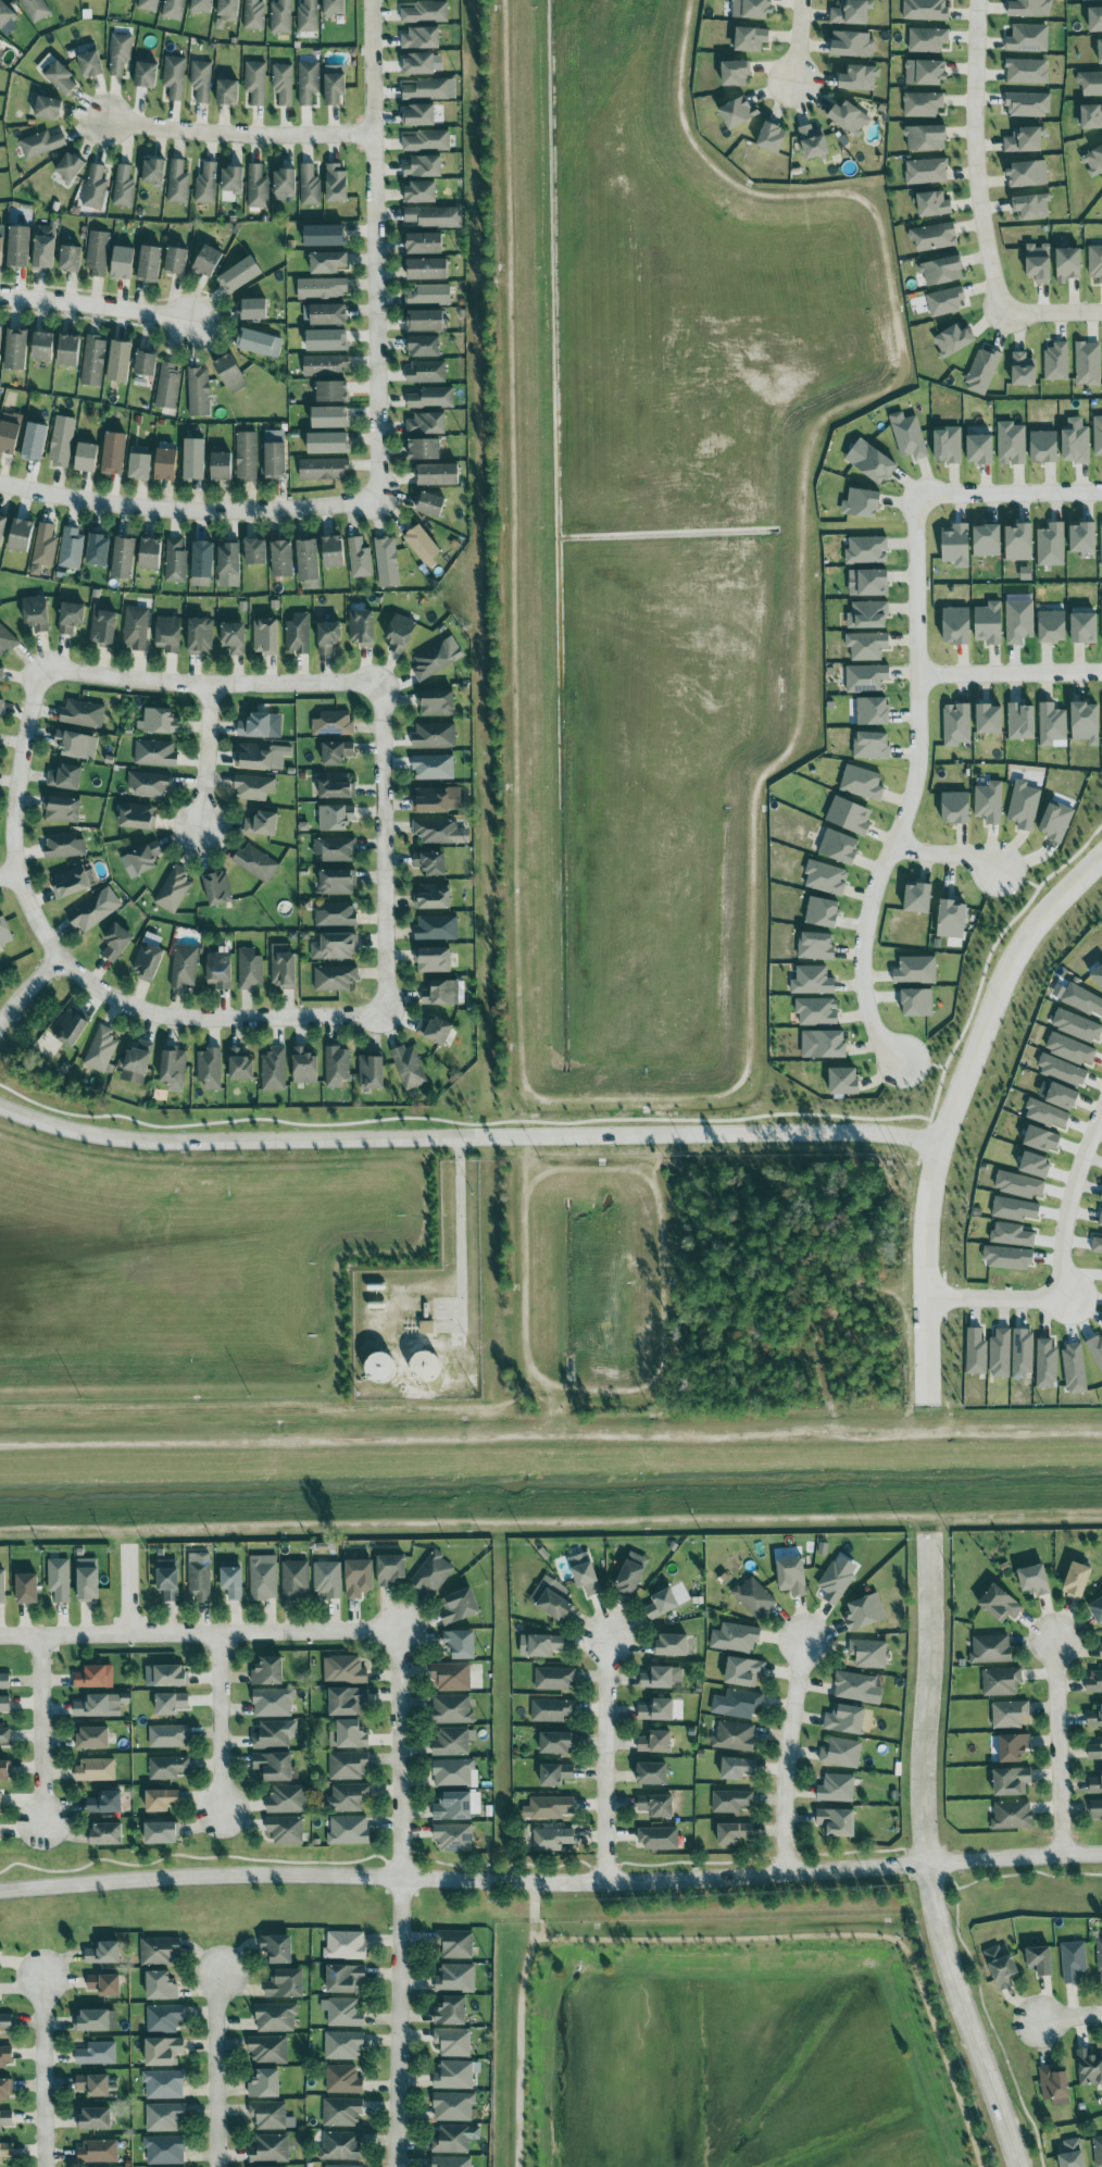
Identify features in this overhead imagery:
building: (1090, 0)
building: (147, 4)
building: (202, 7)
building: (334, 8)
building: (752, 8)
building: (1029, 8)
building: (36, 9)
building: (173, 9)
building: (229, 10)
building: (925, 10)
building: (426, 12)
building: (851, 12)
building: (5, 14)
building: (252, 14)
building: (280, 16)
building: (308, 16)
building: (1095, 18)
building: (421, 38)
building: (751, 38)
building: (1028, 38)
building: (0, 39)
building: (927, 39)
road: (802, 41)
building: (852, 43)
building: (1100, 50)
building: (120, 53)
building: (422, 63)
building: (90, 64)
building: (1027, 71)
building: (736, 72)
building: (926, 72)
building: (146, 74)
building: (174, 76)
building: (61, 77)
building: (860, 77)
building: (201, 80)
building: (255, 82)
building: (308, 82)
building: (283, 83)
building: (1090, 83)
building: (335, 84)
building: (426, 89)
building: (228, 92)
building: (923, 104)
building: (1028, 104)
building: (48, 108)
building: (739, 112)
building: (418, 115)
building: (1091, 116)
building: (850, 117)
road: (237, 134)
building: (773, 137)
building: (926, 137)
building: (1024, 140)
building: (427, 141)
building: (813, 141)
building: (41, 144)
road: (976, 155)
building: (1093, 161)
building: (70, 166)
building: (424, 166)
building: (926, 171)
building: (153, 172)
building: (1028, 174)
building: (233, 180)
building: (178, 182)
building: (337, 183)
building: (205, 184)
building: (285, 184)
building: (310, 185)
building: (123, 186)
building: (95, 187)
building: (258, 187)
building: (422, 191)
building: (934, 204)
building: (1032, 206)
building: (435, 216)
building: (325, 235)
building: (934, 237)
building: (425, 242)
building: (1, 244)
road: (371, 245)
building: (18, 246)
building: (46, 246)
building: (98, 253)
building: (71, 258)
building: (177, 260)
building: (209, 260)
building: (1095, 261)
building: (123, 262)
building: (328, 262)
building: (1039, 262)
building: (150, 264)
building: (1068, 264)
building: (427, 269)
building: (942, 271)
building: (240, 275)
building: (322, 288)
building: (428, 295)
building: (946, 301)
road: (96, 302)
building: (254, 309)
road: (1053, 312)
building: (426, 321)
building: (1, 335)
building: (327, 340)
building: (954, 340)
building: (260, 343)
building: (43, 346)
building: (425, 346)
building: (16, 349)
building: (70, 350)
building: (93, 360)
building: (120, 361)
building: (1056, 361)
building: (146, 363)
building: (1088, 363)
building: (325, 365)
building: (982, 370)
building: (1024, 370)
building: (426, 372)
building: (230, 374)
building: (167, 385)
building: (198, 391)
building: (333, 391)
building: (431, 398)
building: (330, 416)
building: (426, 424)
building: (909, 436)
building: (9, 437)
building: (61, 440)
building: (1098, 440)
building: (35, 441)
building: (328, 443)
building: (1012, 444)
building: (949, 445)
building: (1076, 445)
building: (1044, 446)
building: (425, 449)
building: (980, 449)
building: (114, 453)
building: (246, 457)
building: (87, 458)
building: (195, 459)
building: (275, 461)
building: (139, 463)
building: (166, 464)
building: (875, 464)
building: (221, 466)
building: (324, 469)
building: (438, 474)
road: (1012, 490)
building: (862, 503)
building: (431, 505)
road: (187, 507)
building: (2, 528)
building: (21, 535)
building: (1084, 537)
building: (1101, 539)
building: (988, 540)
building: (1019, 543)
building: (423, 545)
building: (956, 545)
building: (1051, 545)
building: (45, 546)
building: (71, 548)
building: (98, 550)
building: (866, 550)
building: (255, 551)
building: (334, 551)
building: (150, 553)
building: (124, 558)
building: (359, 558)
building: (283, 559)
building: (308, 560)
building: (175, 561)
building: (387, 562)
building: (202, 563)
building: (229, 565)
building: (874, 583)
building: (36, 613)
building: (868, 615)
building: (71, 618)
building: (1018, 620)
building: (989, 623)
building: (956, 625)
building: (102, 626)
building: (1053, 626)
building: (136, 627)
building: (362, 627)
building: (1085, 628)
building: (400, 633)
building: (168, 634)
building: (298, 634)
building: (201, 636)
building: (265, 636)
building: (328, 636)
building: (234, 637)
building: (5, 640)
building: (867, 646)
building: (437, 658)
building: (1, 672)
road: (1009, 672)
building: (866, 678)
road: (208, 684)
building: (0, 703)
building: (436, 703)
building: (873, 711)
building: (83, 714)
building: (990, 720)
building: (159, 722)
building: (1022, 722)
building: (333, 723)
building: (1087, 723)
building: (956, 724)
building: (1052, 724)
building: (261, 726)
building: (434, 735)
building: (77, 745)
building: (872, 746)
building: (337, 752)
building: (155, 754)
road: (208, 756)
building: (260, 757)
building: (433, 767)
building: (65, 777)
park: (673, 783)
building: (862, 783)
building: (149, 785)
building: (336, 786)
building: (254, 787)
road: (911, 792)
building: (430, 800)
building: (989, 802)
building: (1024, 806)
building: (956, 808)
building: (62, 810)
building: (850, 815)
building: (137, 817)
building: (336, 817)
building: (1055, 821)
building: (262, 824)
building: (440, 832)
building: (63, 846)
road: (391, 846)
building: (840, 847)
building: (335, 849)
road: (948, 852)
building: (146, 858)
building: (255, 863)
building: (431, 863)
road: (8, 876)
building: (826, 879)
building: (337, 882)
building: (70, 883)
road: (1028, 884)
building: (217, 888)
building: (173, 891)
building: (433, 897)
building: (918, 899)
building: (95, 910)
building: (823, 912)
building: (336, 914)
building: (952, 920)
building: (436, 929)
building: (4, 932)
building: (116, 943)
building: (816, 946)
building: (335, 947)
building: (148, 958)
building: (434, 960)
building: (184, 967)
building: (283, 967)
building: (249, 969)
road: (72, 970)
building: (220, 970)
building: (915, 971)
building: (1098, 975)
building: (335, 977)
building: (813, 981)
road: (1001, 989)
road: (28, 992)
building: (441, 993)
building: (1082, 1000)
building: (917, 1004)
building: (817, 1012)
building: (1077, 1026)
building: (71, 1028)
building: (435, 1031)
building: (828, 1045)
building: (1070, 1049)
building: (101, 1050)
building: (137, 1063)
building: (241, 1066)
building: (304, 1066)
building: (336, 1067)
building: (209, 1068)
building: (409, 1068)
building: (174, 1070)
building: (274, 1070)
building: (1062, 1070)
building: (372, 1073)
building: (844, 1082)
building: (1063, 1096)
building: (1045, 1113)
road: (472, 1126)
road: (467, 1136)
building: (1042, 1139)
building: (1036, 1166)
building: (1019, 1185)
building: (1101, 1199)
road: (1069, 1201)
building: (1015, 1209)
building: (1101, 1221)
road: (462, 1232)
building: (1012, 1235)
building: (1097, 1246)
building: (1009, 1258)
park: (598, 1262)
road: (525, 1268)
road: (927, 1281)
road: (995, 1303)
parking lot: (453, 1320)
building: (1095, 1350)
building: (976, 1353)
building: (1001, 1354)
building: (1023, 1354)
building: (1047, 1365)
building: (1075, 1369)
road: (550, 1442)
river: (550, 1466)
road: (929, 1477)
building: (391, 1569)
building: (433, 1573)
building: (586, 1573)
building: (631, 1573)
building: (199, 1576)
building: (792, 1576)
building: (263, 1577)
building: (359, 1578)
building: (59, 1579)
building: (167, 1579)
building: (231, 1579)
building: (295, 1579)
building: (327, 1579)
building: (837, 1579)
building: (88, 1580)
building: (1035, 1580)
building: (1078, 1580)
building: (2, 1586)
building: (27, 1589)
road: (130, 1589)
building: (552, 1598)
building: (754, 1598)
building: (663, 1601)
building: (1000, 1604)
building: (460, 1606)
building: (1097, 1609)
building: (865, 1612)
road: (198, 1633)
building: (735, 1637)
building: (461, 1644)
building: (540, 1645)
building: (671, 1645)
building: (991, 1648)
building: (1101, 1651)
building: (868, 1653)
building: (343, 1670)
building: (268, 1671)
building: (744, 1671)
building: (165, 1676)
building: (95, 1677)
building: (451, 1677)
building: (662, 1678)
building: (554, 1679)
building: (4, 1681)
building: (1001, 1681)
building: (1094, 1681)
building: (857, 1689)
road: (929, 1698)
building: (347, 1701)
building: (4, 1703)
building: (171, 1703)
building: (273, 1703)
building: (736, 1704)
building: (101, 1705)
building: (452, 1709)
building: (656, 1709)
building: (552, 1710)
building: (1009, 1714)
building: (1094, 1718)
building: (846, 1719)
road: (221, 1723)
road: (43, 1731)
building: (275, 1734)
building: (4, 1735)
building: (349, 1735)
building: (167, 1736)
building: (734, 1736)
building: (93, 1738)
building: (452, 1742)
building: (555, 1742)
building: (655, 1742)
building: (1014, 1747)
road: (1060, 1747)
building: (1095, 1751)
building: (841, 1753)
road: (788, 1756)
road: (610, 1760)
building: (348, 1765)
building: (274, 1766)
building: (167, 1767)
building: (737, 1768)
building: (4, 1770)
building: (95, 1770)
building: (1101, 1771)
building: (453, 1773)
building: (555, 1773)
building: (653, 1773)
building: (1012, 1781)
building: (1095, 1784)
building: (837, 1789)
building: (347, 1797)
building: (161, 1799)
building: (287, 1799)
building: (731, 1801)
building: (0, 1803)
building: (105, 1803)
building: (656, 1805)
building: (455, 1806)
building: (548, 1807)
building: (1095, 1808)
building: (1012, 1815)
building: (837, 1822)
building: (285, 1830)
building: (349, 1830)
building: (161, 1832)
building: (107, 1833)
building: (735, 1833)
building: (453, 1838)
building: (551, 1839)
building: (659, 1839)
road: (1017, 1859)
road: (466, 1880)
road: (401, 1898)
road: (537, 1911)
road: (840, 1935)
building: (455, 1944)
building: (345, 1945)
building: (278, 1948)
building: (160, 1952)
building: (104, 1953)
building: (1100, 1954)
building: (1041, 1959)
building: (1073, 1961)
building: (1002, 1968)
building: (455, 1978)
building: (345, 1979)
building: (286, 1983)
building: (105, 1984)
building: (161, 1987)
building: (452, 2012)
building: (342, 2013)
road: (975, 2015)
road: (1070, 2017)
building: (164, 2018)
building: (276, 2018)
building: (96, 2019)
building: (5, 2021)
park: (726, 2033)
building: (453, 2042)
building: (342, 2045)
building: (268, 2050)
building: (163, 2051)
road: (524, 2053)
building: (97, 2054)
building: (5, 2057)
building: (1088, 2068)
road: (216, 2070)
road: (45, 2072)
building: (454, 2075)
building: (342, 2080)
building: (93, 2083)
building: (163, 2084)
building: (265, 2084)
building: (1054, 2084)
building: (5, 2090)
building: (453, 2107)
building: (341, 2113)
building: (271, 2116)
building: (163, 2117)
building: (96, 2118)
building: (5, 2119)
building: (454, 2139)
building: (340, 2146)
building: (270, 2149)
building: (164, 2150)
building: (98, 2151)
building: (1098, 2151)
building: (5, 2152)
building: (1073, 2154)
building: (451, 2162)
building: (339, 2166)

